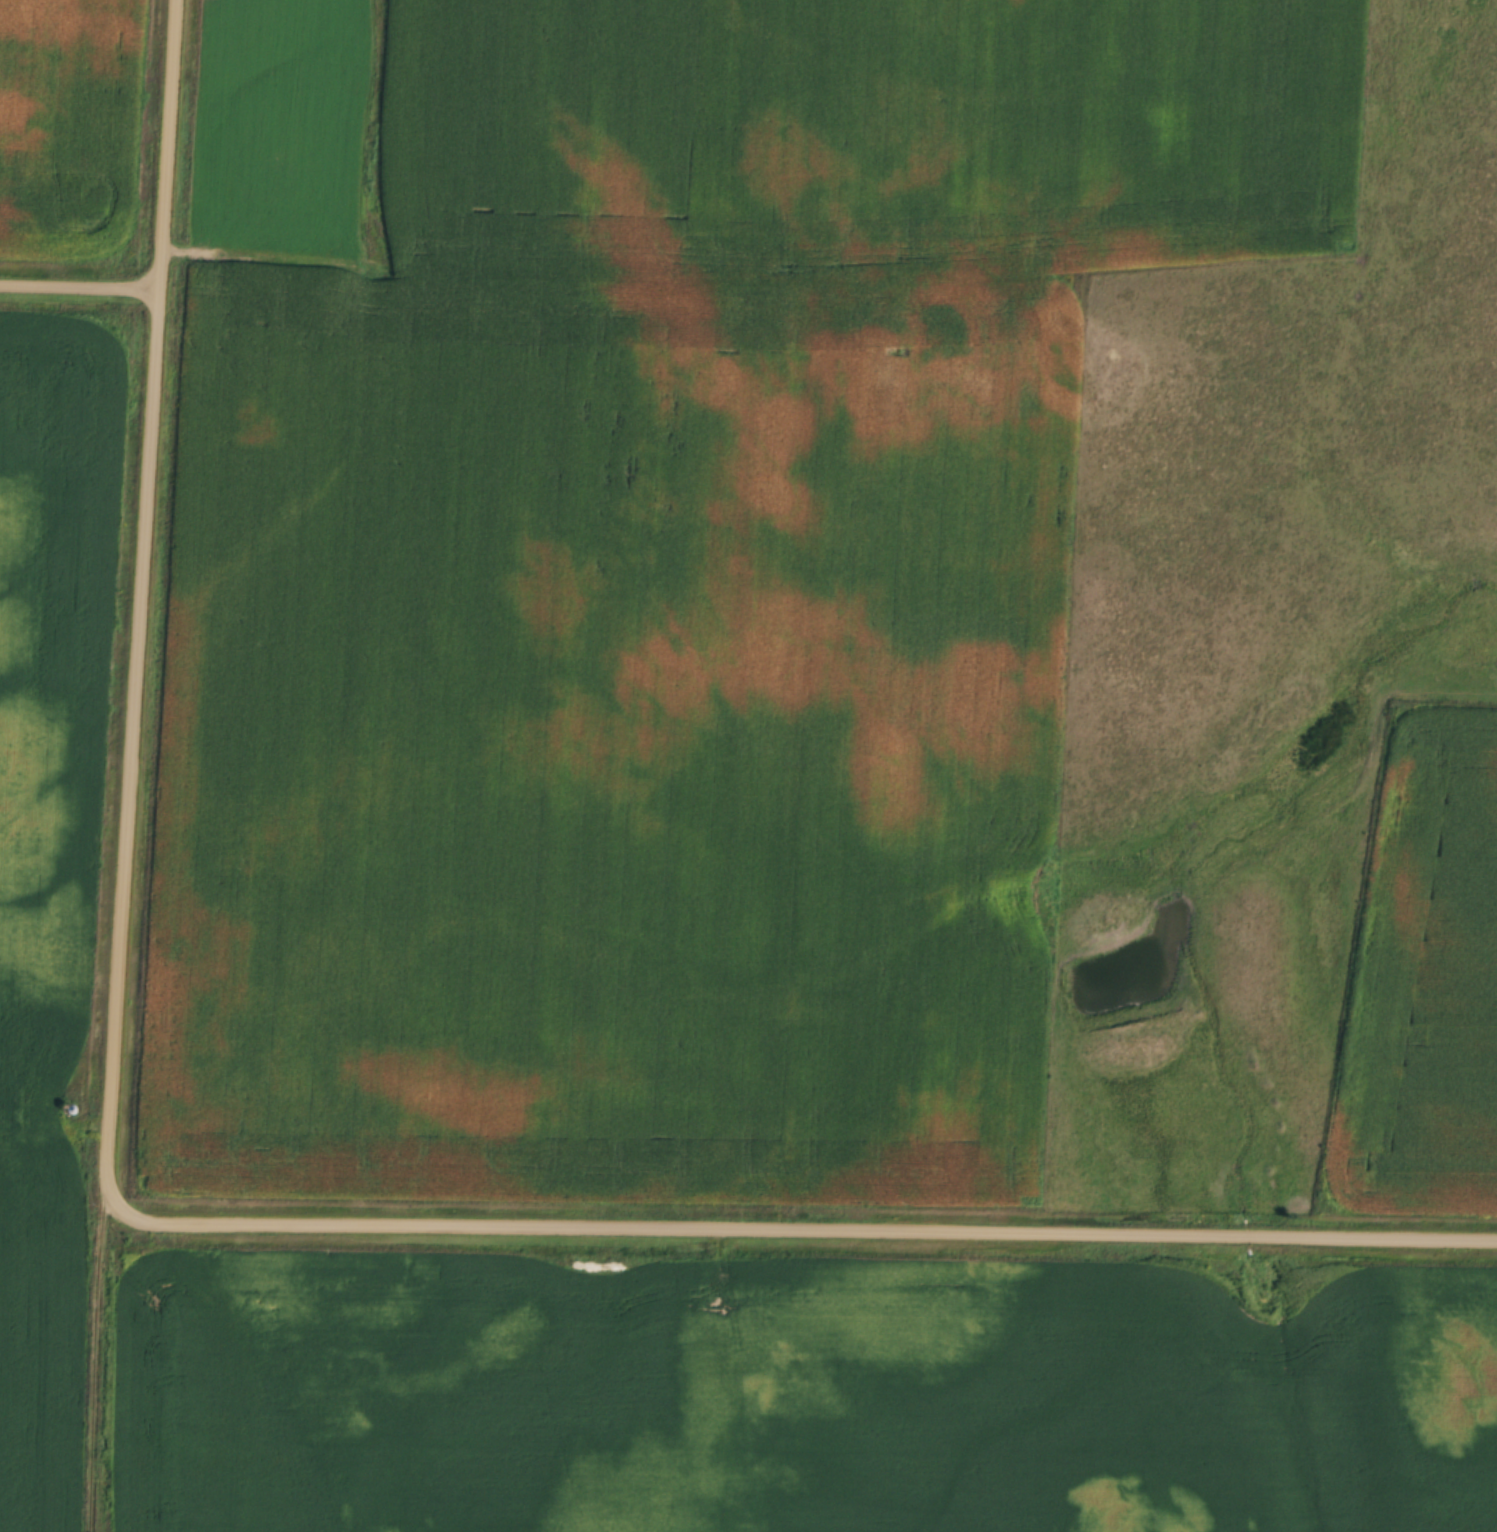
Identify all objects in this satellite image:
crop: (30, 84)
road: (80, 289)
crop: (857, 493)
road: (141, 616)
road: (816, 1234)

